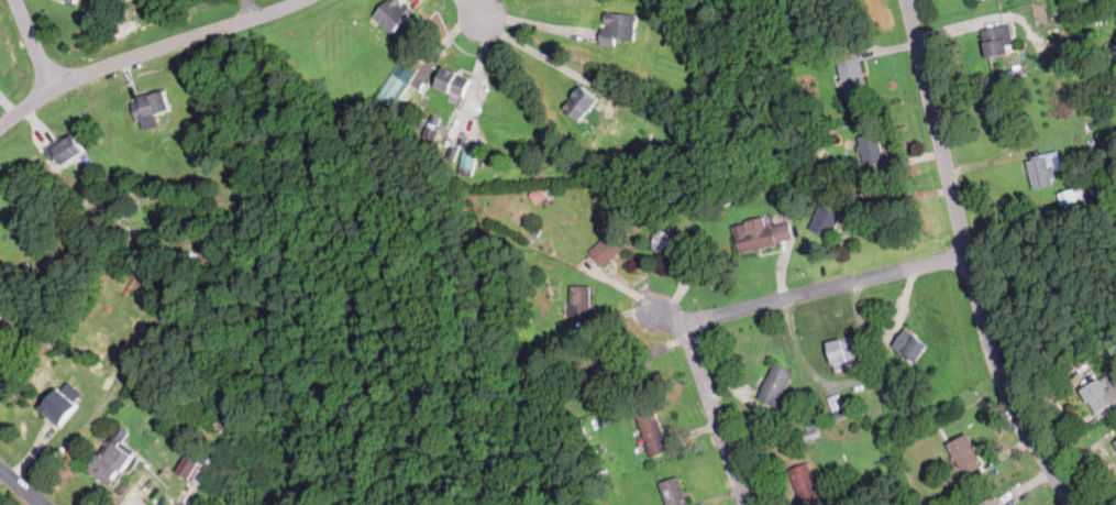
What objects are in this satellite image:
building: (75, 1)
road: (477, 9)
building: (394, 13)
road: (538, 22)
building: (618, 26)
road: (38, 41)
building: (999, 41)
road: (144, 51)
building: (404, 70)
building: (853, 75)
building: (454, 80)
building: (582, 103)
building: (152, 106)
building: (430, 134)
building: (872, 149)
building: (71, 153)
building: (468, 162)
building: (1041, 172)
building: (1082, 193)
building: (535, 194)
building: (0, 209)
building: (827, 221)
building: (762, 234)
building: (674, 243)
building: (609, 248)
road: (971, 260)
road: (827, 292)
building: (581, 303)
building: (913, 344)
building: (5, 349)
building: (844, 351)
building: (776, 384)
building: (1100, 396)
building: (65, 402)
building: (836, 403)
road: (720, 419)
building: (214, 422)
building: (653, 432)
building: (810, 433)
building: (1114, 440)
building: (970, 455)
building: (113, 462)
building: (196, 468)
building: (806, 484)
road: (22, 485)
building: (674, 492)
building: (992, 502)
road: (131, 504)

